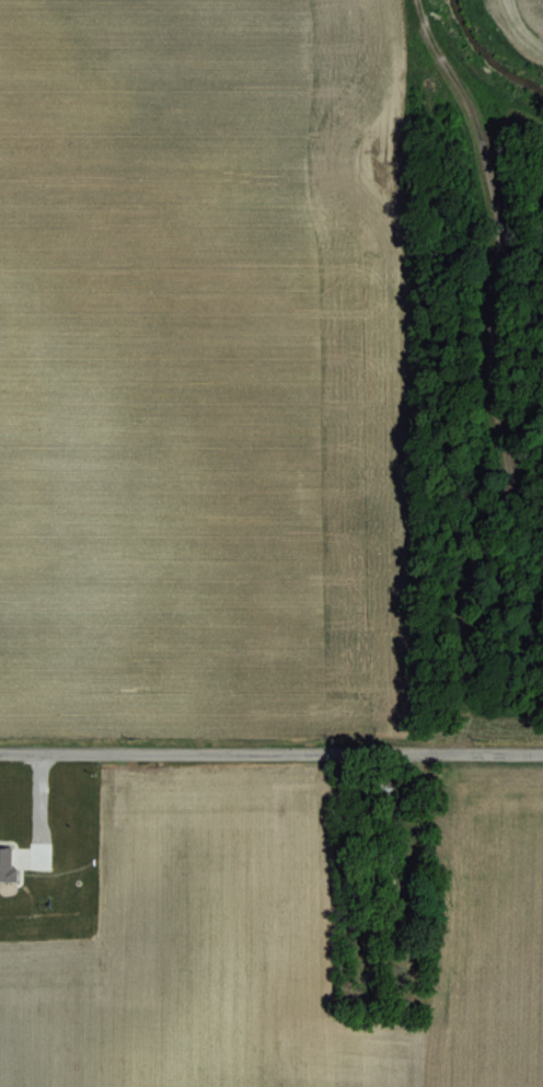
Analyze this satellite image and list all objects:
road: (271, 753)

